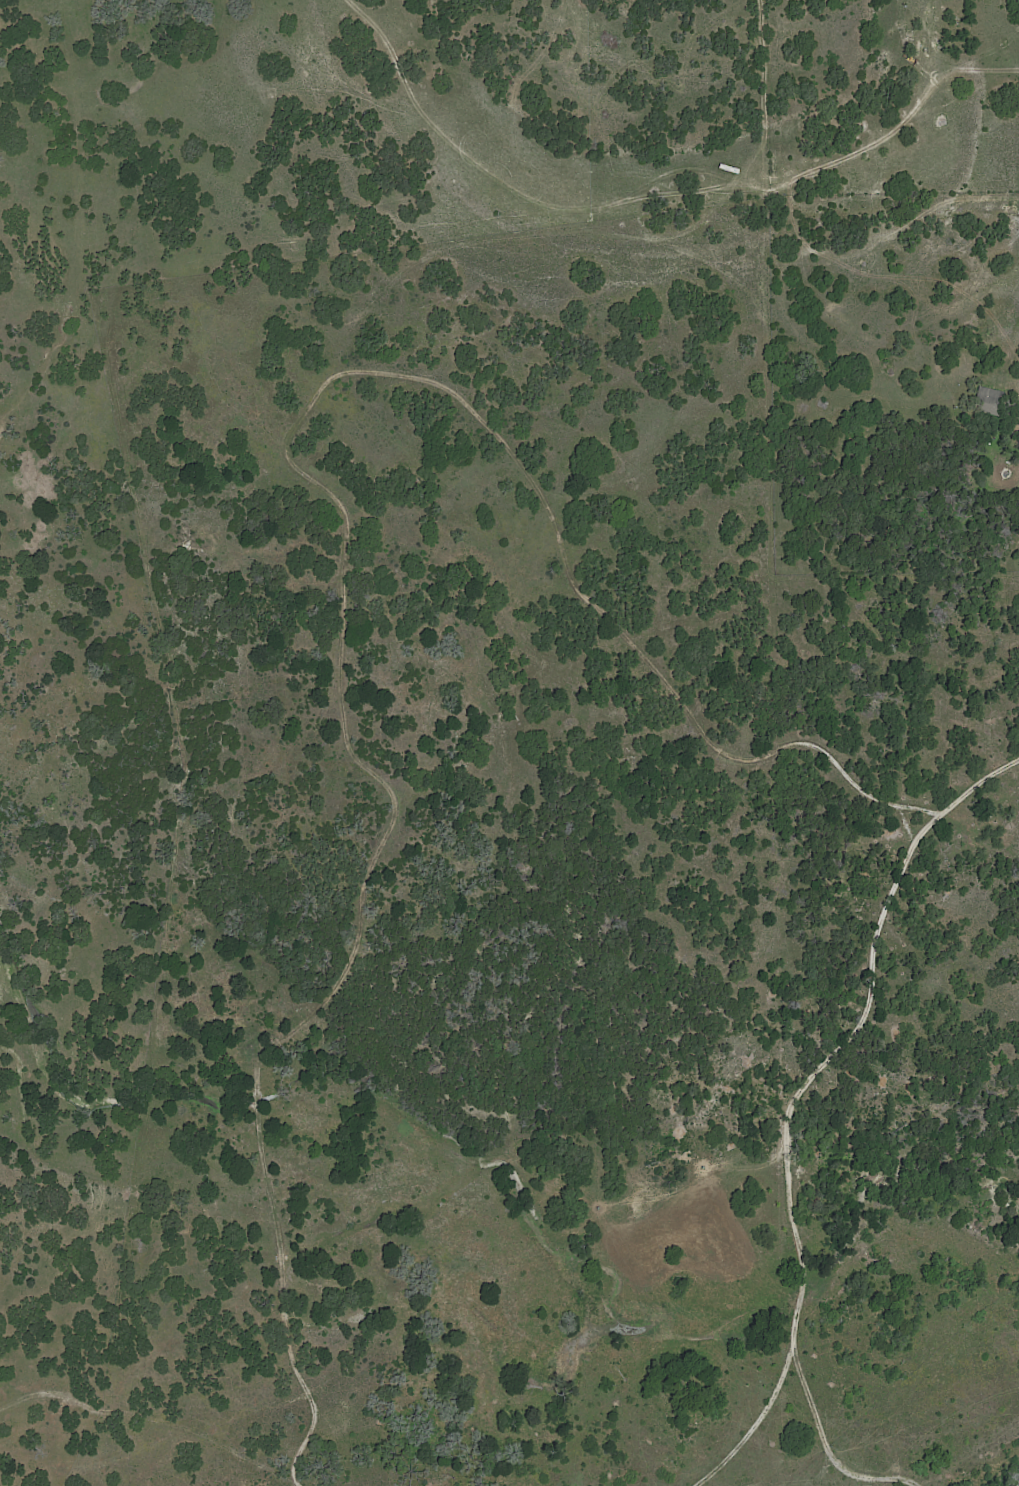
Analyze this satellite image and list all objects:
building: (987, 400)

